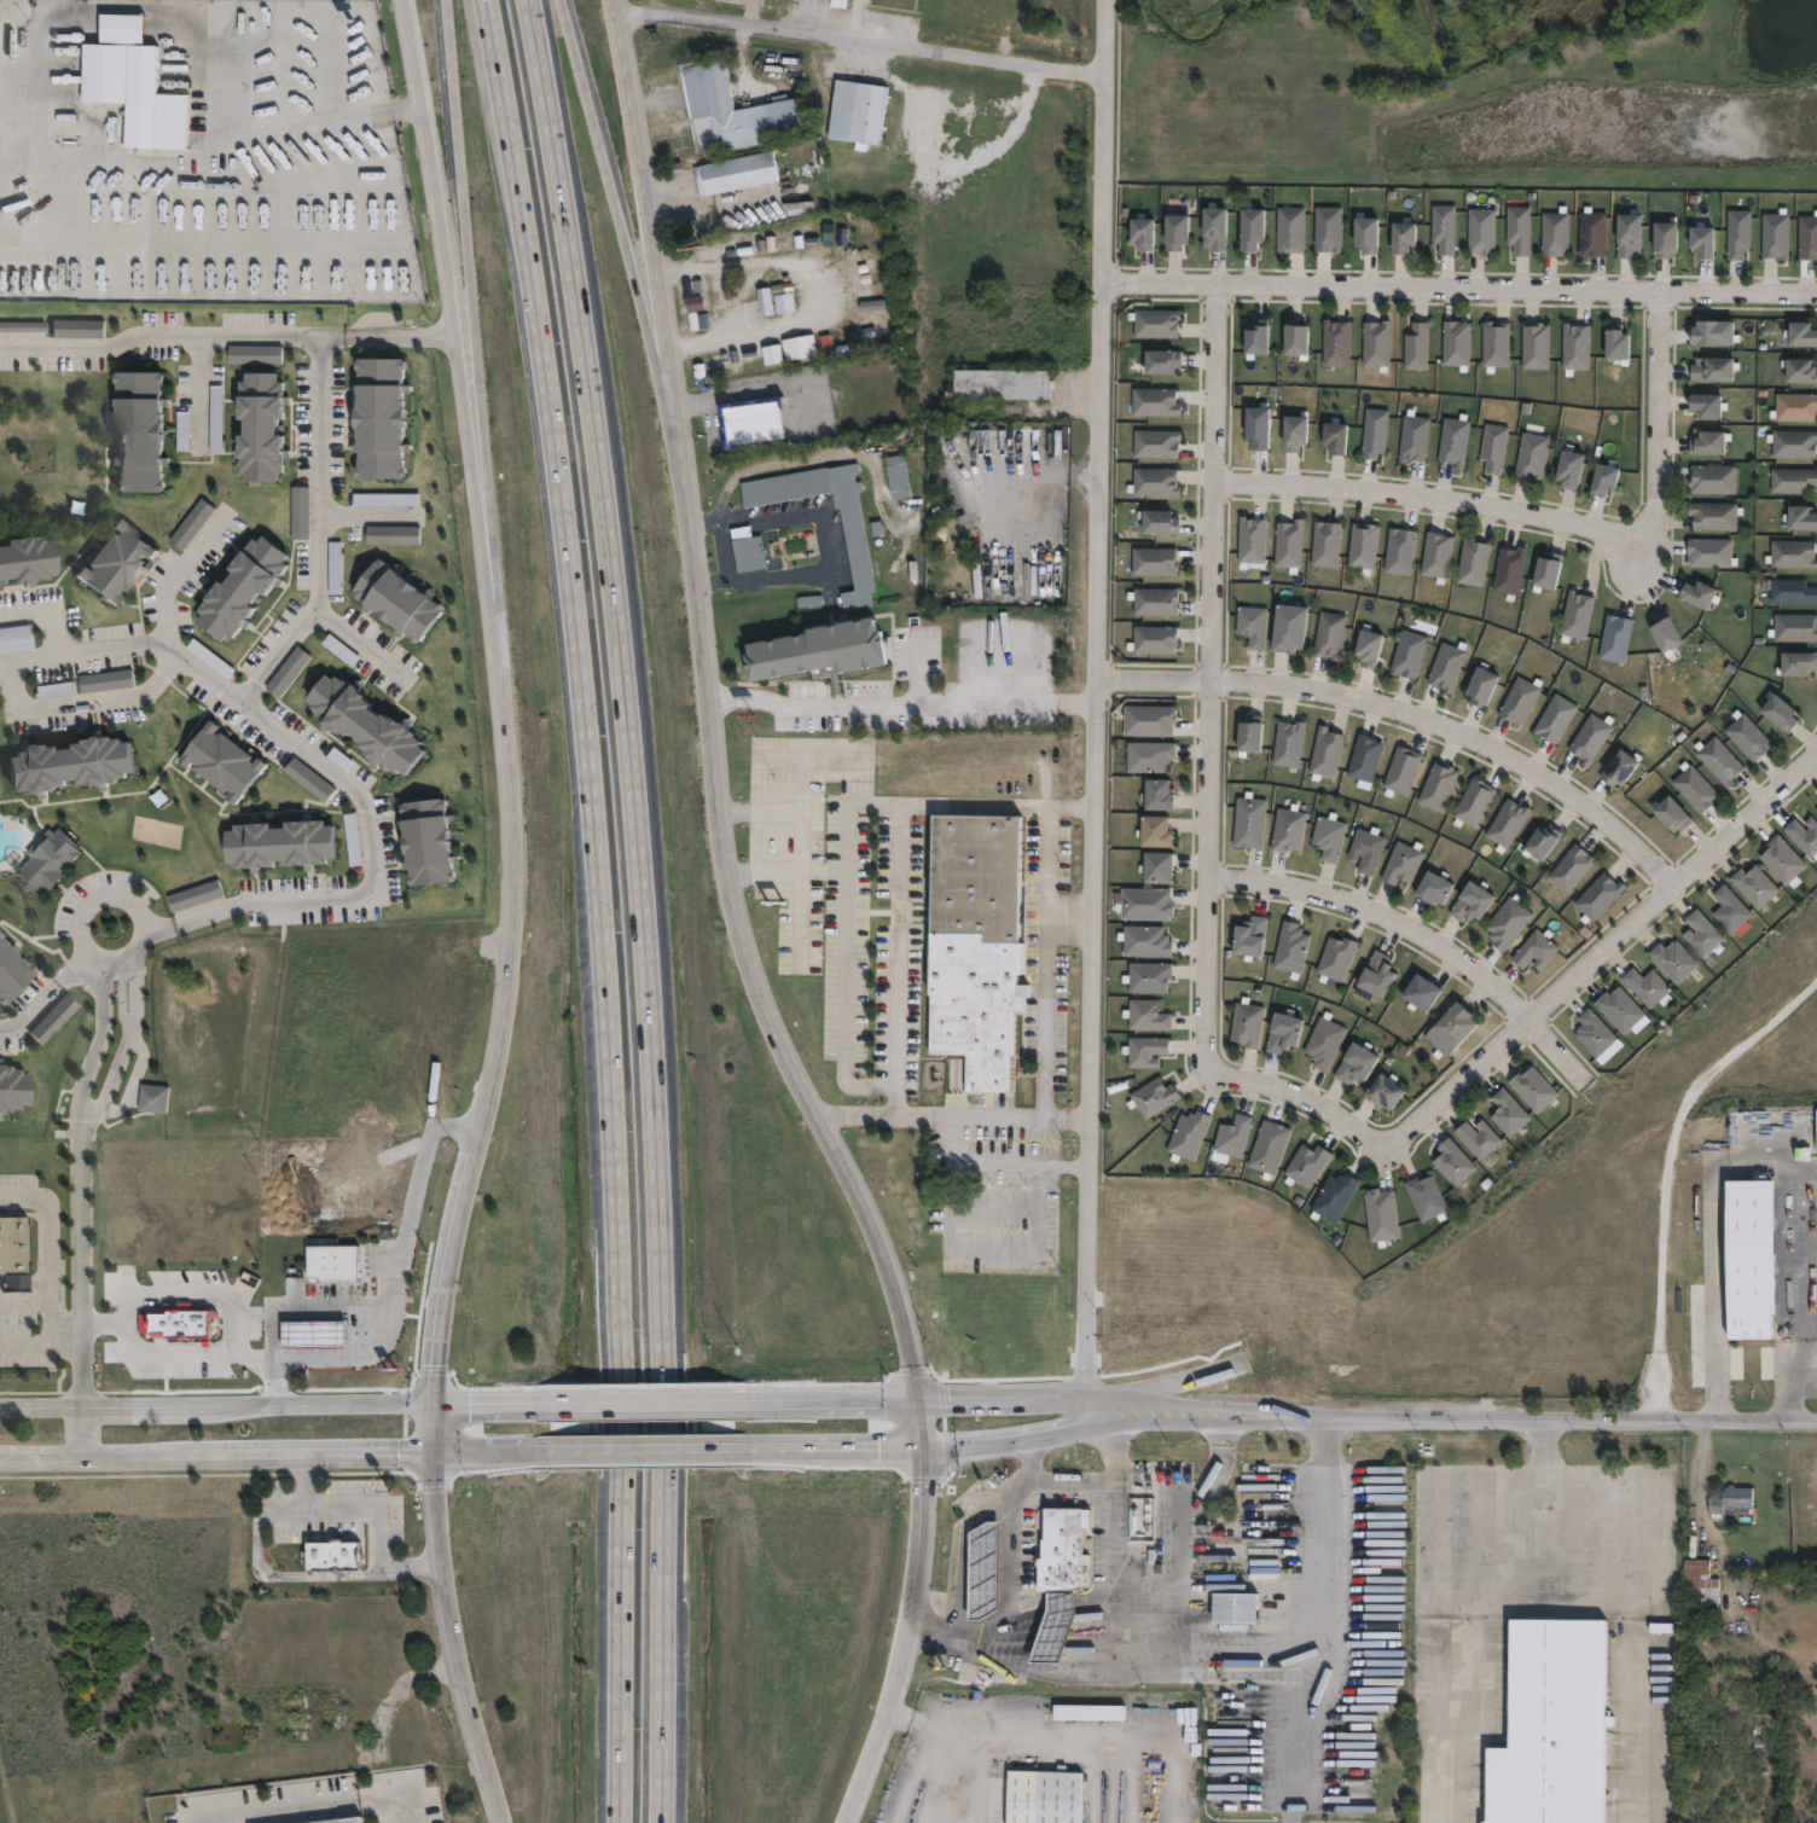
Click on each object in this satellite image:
road: (858, 46)
building: (127, 76)
building: (737, 112)
building: (863, 112)
road: (201, 130)
road: (604, 168)
building: (738, 174)
building: (1211, 227)
building: (1246, 227)
building: (1441, 228)
building: (1288, 230)
building: (1325, 230)
building: (1516, 230)
building: (1172, 231)
building: (1480, 231)
building: (1137, 232)
building: (1554, 233)
building: (1591, 233)
building: (1737, 233)
building: (1362, 234)
building: (1625, 234)
building: (1775, 236)
building: (1399, 237)
building: (1807, 237)
building: (1662, 238)
building: (1699, 242)
road: (1459, 285)
road: (469, 289)
road: (811, 289)
building: (721, 307)
building: (1161, 323)
road: (430, 329)
building: (1711, 333)
road: (157, 335)
road: (330, 335)
building: (1800, 335)
road: (377, 336)
building: (1252, 339)
building: (1290, 339)
road: (434, 341)
building: (1335, 343)
building: (1455, 344)
building: (1375, 346)
building: (1494, 346)
building: (1613, 346)
building: (1415, 347)
building: (1533, 347)
building: (1574, 348)
building: (743, 360)
building: (1169, 362)
building: (1711, 370)
building: (1798, 371)
building: (54, 373)
road: (760, 373)
building: (1008, 384)
road: (197, 391)
building: (1161, 402)
building: (1705, 405)
building: (1794, 408)
building: (381, 413)
building: (263, 422)
building: (757, 422)
building: (139, 426)
building: (1253, 426)
building: (1290, 432)
building: (1372, 432)
building: (1330, 437)
building: (1412, 437)
building: (1453, 441)
building: (1706, 443)
building: (1162, 445)
building: (1792, 445)
building: (1493, 448)
building: (1531, 457)
building: (1566, 469)
building: (901, 477)
building: (1601, 480)
building: (1711, 480)
building: (1792, 481)
building: (1161, 482)
road: (1033, 488)
building: (60, 515)
road: (1552, 515)
road: (364, 516)
building: (1713, 516)
building: (1799, 519)
building: (1161, 523)
road: (315, 530)
road: (837, 538)
building: (1253, 541)
building: (1290, 545)
building: (1328, 545)
building: (806, 547)
building: (1364, 547)
building: (750, 550)
building: (863, 550)
building: (1401, 552)
building: (1709, 553)
building: (1438, 556)
building: (1790, 556)
building: (27, 557)
building: (112, 559)
building: (1156, 562)
building: (1474, 563)
building: (1511, 571)
building: (1543, 574)
building: (240, 584)
building: (1790, 592)
building: (399, 596)
building: (1696, 596)
building: (1157, 603)
road: (47, 609)
building: (1575, 615)
building: (1254, 626)
building: (1793, 628)
building: (1290, 629)
building: (1664, 635)
building: (1331, 637)
building: (1156, 640)
building: (1614, 640)
road: (128, 644)
road: (356, 649)
building: (1370, 649)
building: (824, 654)
building: (1410, 655)
building: (1795, 664)
building: (1449, 668)
road: (1215, 675)
road: (575, 681)
road: (151, 684)
building: (1484, 689)
building: (1517, 702)
road: (1412, 708)
road: (898, 712)
building: (1777, 714)
road: (1095, 715)
building: (365, 720)
building: (1150, 720)
building: (1554, 720)
building: (1249, 737)
building: (1747, 738)
building: (1589, 741)
building: (1289, 744)
road: (306, 751)
building: (1327, 753)
building: (1149, 757)
building: (1366, 759)
building: (225, 760)
building: (68, 762)
building: (1719, 762)
building: (1615, 770)
building: (1404, 771)
building: (1436, 788)
building: (1694, 789)
building: (0, 793)
building: (1159, 796)
building: (1471, 803)
building: (1815, 812)
building: (1670, 817)
building: (1249, 824)
building: (1505, 825)
building: (1288, 830)
building: (1156, 832)
building: (1329, 837)
building: (1803, 837)
road: (371, 838)
building: (428, 840)
building: (281, 841)
building: (1540, 843)
building: (1368, 850)
building: (47, 858)
road: (896, 860)
building: (1781, 860)
building: (1400, 865)
building: (1156, 866)
building: (1571, 870)
road: (1049, 882)
building: (1753, 884)
building: (1429, 890)
building: (1597, 898)
road: (93, 901)
road: (279, 901)
building: (1144, 904)
building: (1468, 904)
road: (639, 907)
building: (1728, 910)
road: (511, 913)
building: (1507, 924)
road: (735, 930)
road: (1427, 931)
building: (1700, 933)
building: (1246, 935)
building: (1144, 941)
road: (844, 944)
building: (985, 945)
building: (1289, 947)
building: (1533, 952)
building: (1335, 958)
building: (1672, 959)
road: (120, 960)
building: (11, 970)
building: (1372, 974)
building: (1148, 977)
building: (1647, 987)
building: (1417, 992)
building: (1618, 1009)
road: (31, 1010)
road: (1537, 1012)
building: (1145, 1015)
road: (1040, 1016)
building: (51, 1018)
building: (1246, 1023)
building: (1446, 1028)
building: (1279, 1030)
building: (1592, 1033)
building: (1323, 1041)
building: (1143, 1050)
road: (92, 1053)
road: (120, 1053)
building: (1353, 1062)
road: (130, 1085)
building: (12, 1086)
building: (1531, 1088)
building: (1380, 1090)
building: (158, 1097)
building: (1151, 1097)
building: (1507, 1113)
road: (950, 1115)
building: (1815, 1126)
building: (1189, 1136)
building: (1230, 1137)
building: (1478, 1139)
road: (1728, 1146)
building: (1266, 1148)
building: (1452, 1162)
road: (999, 1163)
building: (1304, 1165)
building: (1331, 1197)
building: (1424, 1197)
building: (1380, 1215)
building: (12, 1243)
building: (1749, 1256)
building: (332, 1261)
road: (50, 1271)
road: (396, 1287)
road: (173, 1291)
road: (25, 1300)
road: (81, 1302)
road: (312, 1312)
building: (176, 1322)
building: (313, 1333)
road: (271, 1342)
road: (34, 1343)
road: (185, 1355)
road: (250, 1358)
road: (1798, 1377)
road: (1035, 1392)
traffic signals: (916, 1397)
traffic signals: (434, 1399)
road: (649, 1399)
road: (278, 1405)
road: (616, 1417)
road: (1572, 1417)
road: (1037, 1438)
road: (648, 1448)
traffic signals: (922, 1451)
road: (446, 1452)
traffic signals: (433, 1453)
road: (169, 1459)
road: (1705, 1464)
road: (1072, 1480)
road: (1544, 1481)
building: (1729, 1500)
road: (375, 1505)
road: (964, 1538)
road: (1537, 1545)
building: (1058, 1550)
road: (1171, 1550)
building: (332, 1554)
building: (982, 1569)
gas station: (982, 1569)
road: (1006, 1573)
road: (268, 1574)
building: (1700, 1581)
building: (1230, 1609)
building: (1055, 1627)
gas station: (1055, 1627)
road: (615, 1643)
road: (1266, 1671)
building: (1096, 1713)
road: (1299, 1719)
building: (1551, 1725)
road: (958, 1749)
building: (1043, 1796)
road: (312, 1805)
building: (338, 1821)

